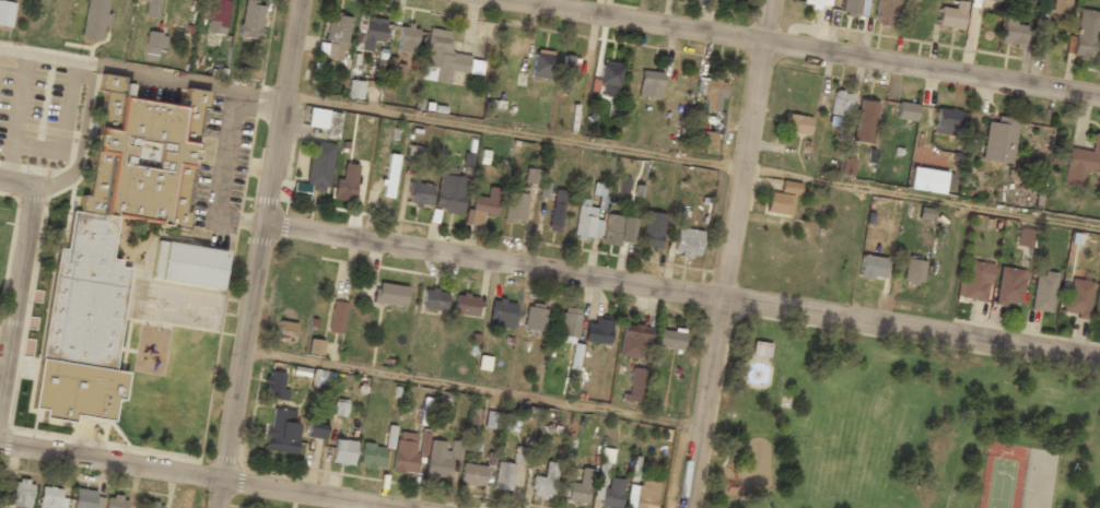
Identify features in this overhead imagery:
building: (995, 0)
building: (815, 2)
building: (1060, 5)
building: (851, 7)
building: (152, 8)
building: (885, 12)
building: (5, 13)
building: (951, 15)
building: (218, 16)
building: (94, 19)
building: (250, 20)
building: (1013, 32)
building: (1085, 33)
building: (373, 34)
building: (336, 35)
building: (407, 37)
building: (154, 44)
road: (811, 49)
building: (446, 57)
building: (354, 59)
building: (542, 63)
building: (564, 73)
building: (609, 78)
building: (650, 84)
building: (355, 88)
building: (713, 94)
building: (840, 103)
building: (905, 111)
building: (317, 118)
building: (833, 120)
building: (864, 121)
building: (948, 121)
building: (796, 123)
road: (550, 135)
building: (703, 139)
building: (998, 140)
building: (1081, 163)
building: (320, 165)
building: (389, 175)
building: (928, 180)
building: (344, 181)
building: (537, 181)
building: (789, 187)
building: (417, 191)
building: (449, 193)
building: (779, 203)
building: (481, 204)
building: (513, 206)
building: (557, 210)
building: (587, 220)
building: (615, 229)
building: (651, 231)
building: (1023, 237)
building: (687, 241)
building: (110, 245)
road: (262, 253)
road: (730, 253)
building: (188, 265)
building: (871, 267)
building: (912, 272)
building: (974, 281)
building: (1009, 285)
road: (21, 286)
road: (683, 292)
building: (1042, 292)
building: (389, 294)
building: (1077, 296)
building: (434, 299)
building: (465, 305)
building: (501, 314)
building: (1099, 315)
building: (337, 317)
building: (535, 317)
building: (569, 321)
building: (285, 331)
building: (598, 331)
building: (669, 339)
building: (633, 340)
building: (315, 346)
building: (759, 347)
building: (634, 385)
building: (276, 386)
road: (476, 388)
building: (339, 407)
building: (424, 411)
building: (475, 418)
building: (491, 420)
park: (893, 423)
building: (315, 430)
building: (280, 432)
building: (389, 437)
building: (423, 444)
building: (343, 452)
building: (405, 453)
building: (371, 456)
building: (520, 456)
building: (442, 458)
building: (472, 474)
road: (197, 475)
building: (503, 475)
park: (1016, 476)
building: (545, 482)
building: (580, 488)
building: (21, 494)
building: (611, 494)
building: (642, 495)
building: (51, 498)
building: (87, 499)
building: (115, 501)
building: (151, 505)

